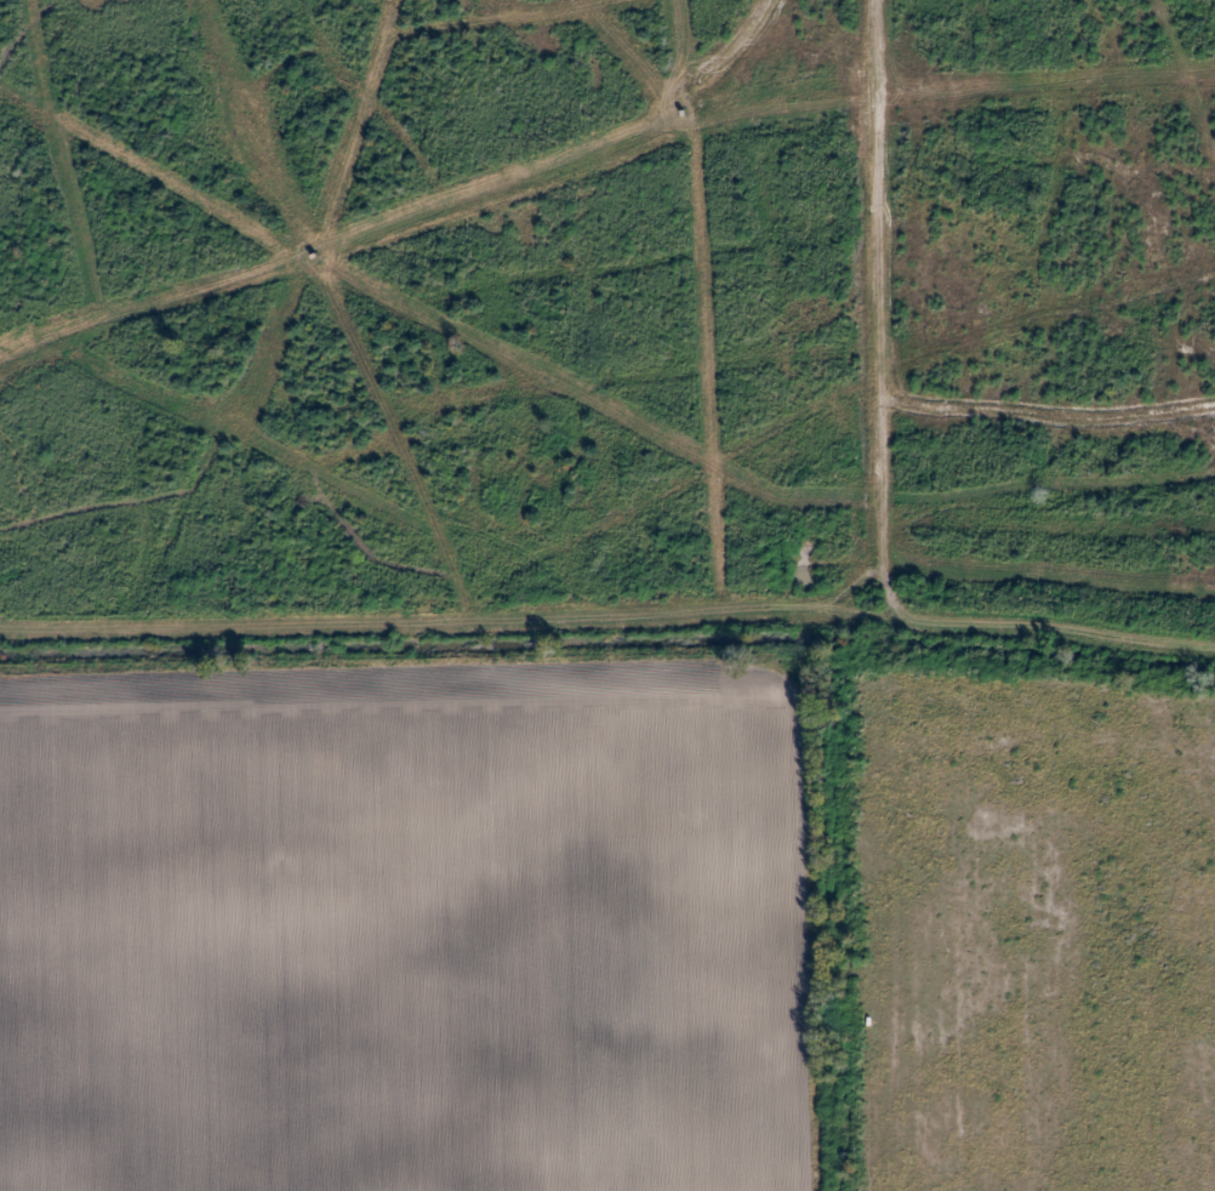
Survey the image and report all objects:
road: (811, 931)

